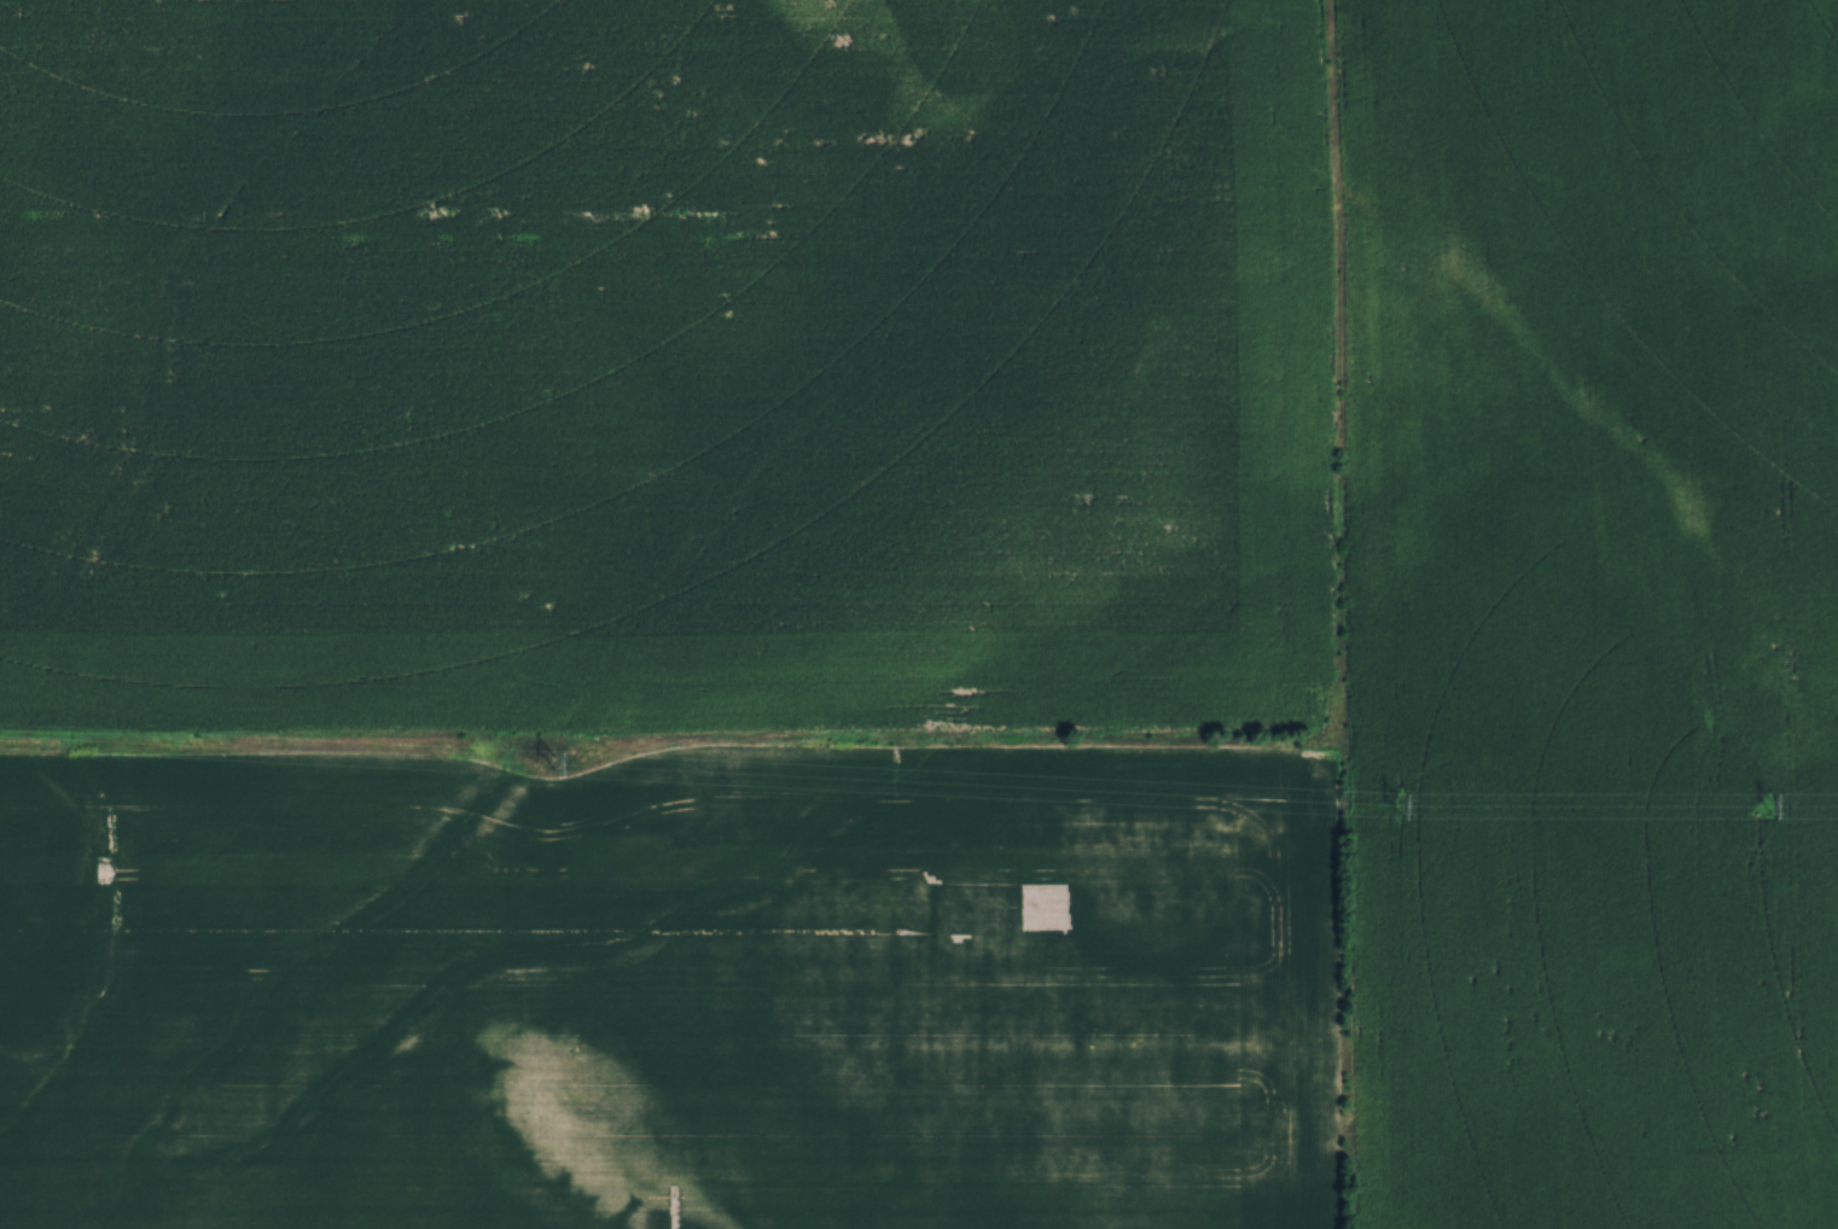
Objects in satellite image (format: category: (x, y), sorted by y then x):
power tower: (554, 763)
power tower: (1398, 805)
power tower: (1778, 805)

